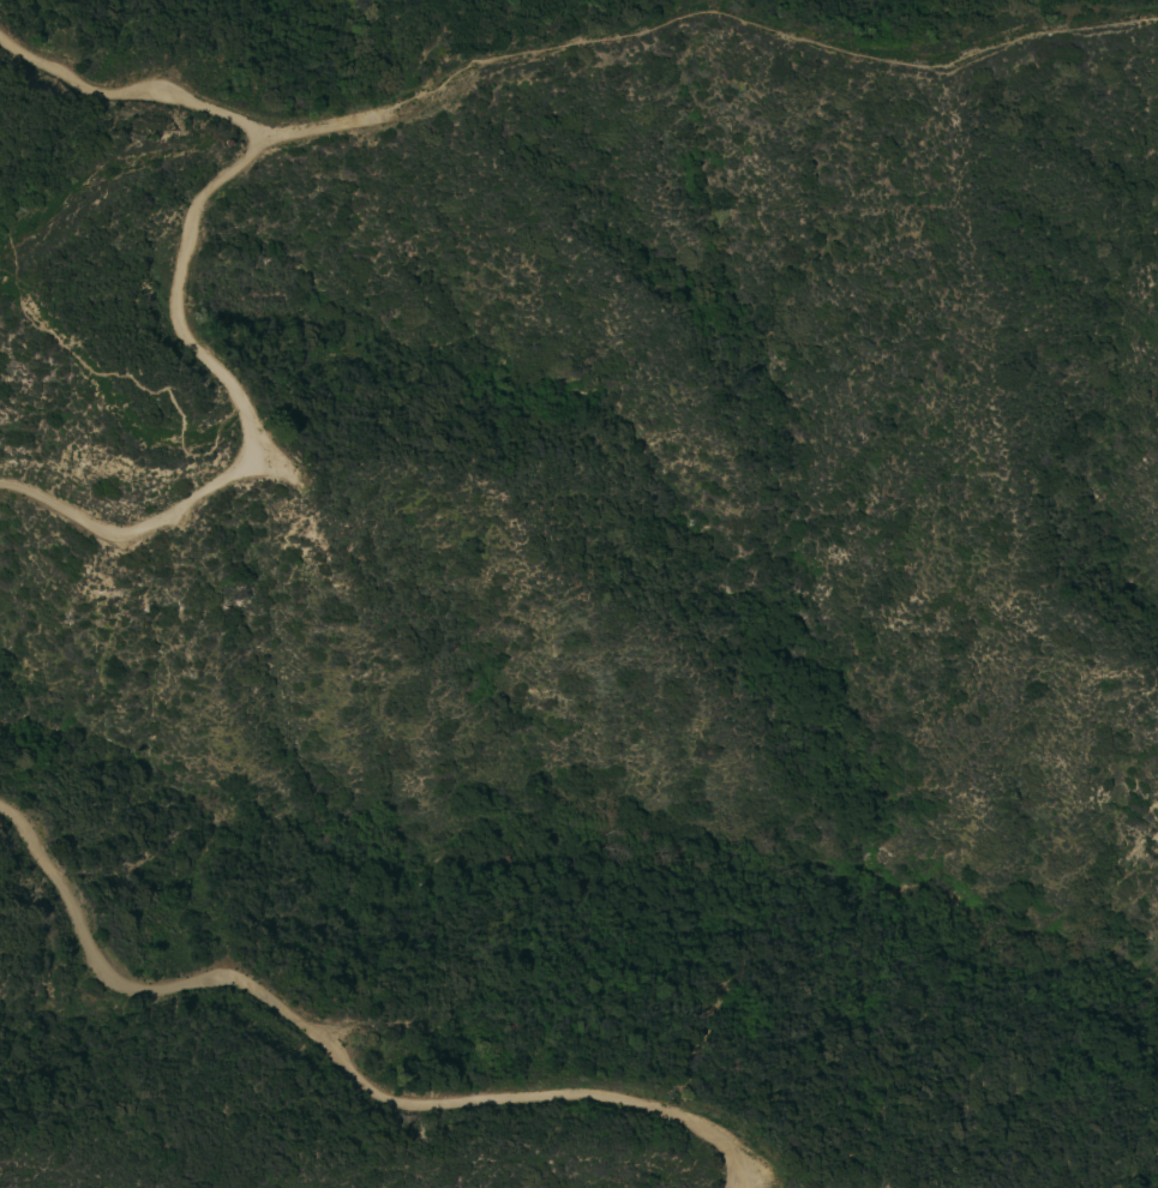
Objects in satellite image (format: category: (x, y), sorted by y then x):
building: (228, 144)
road: (175, 288)
road: (332, 1055)

